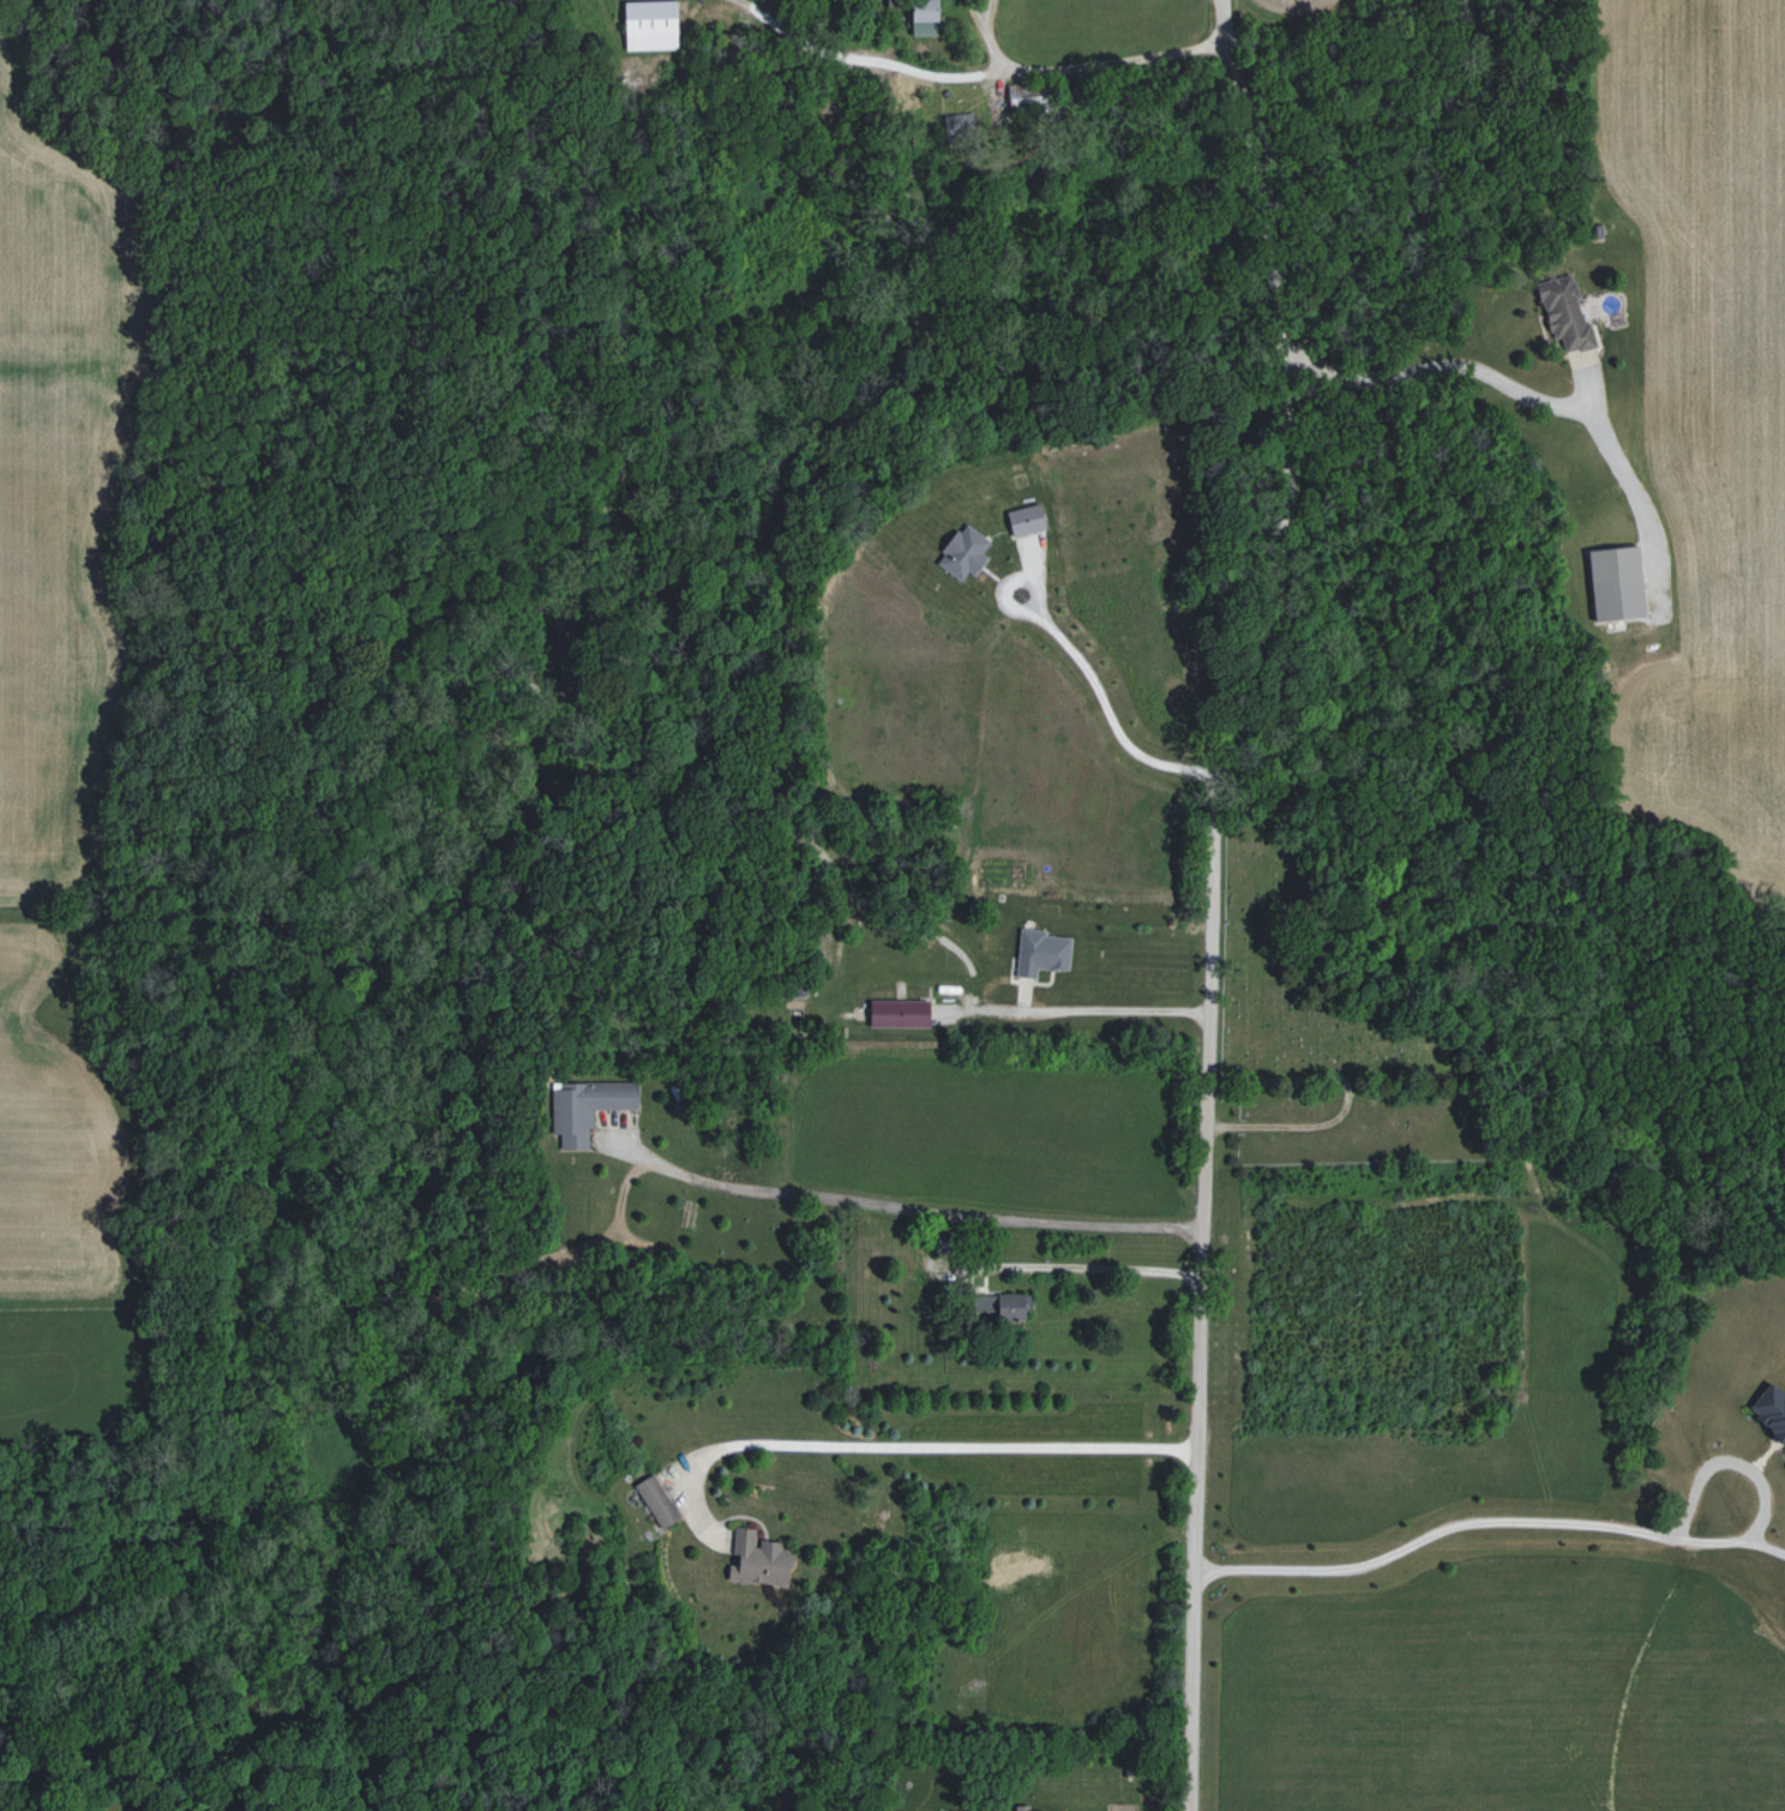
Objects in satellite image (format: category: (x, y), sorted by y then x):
building: (925, 17)
building: (651, 24)
road: (974, 74)
building: (1026, 94)
building: (960, 131)
building: (1565, 313)
road: (1434, 378)
building: (1026, 518)
building: (963, 552)
road: (1023, 576)
building: (1616, 583)
road: (1104, 713)
road: (1209, 896)
building: (1041, 952)
road: (1071, 1009)
building: (898, 1013)
building: (588, 1108)
road: (906, 1206)
road: (1071, 1267)
building: (1002, 1306)
building: (1771, 1409)
road: (903, 1445)
building: (657, 1500)
road: (1565, 1522)
building: (758, 1560)
building: (1023, 1807)

